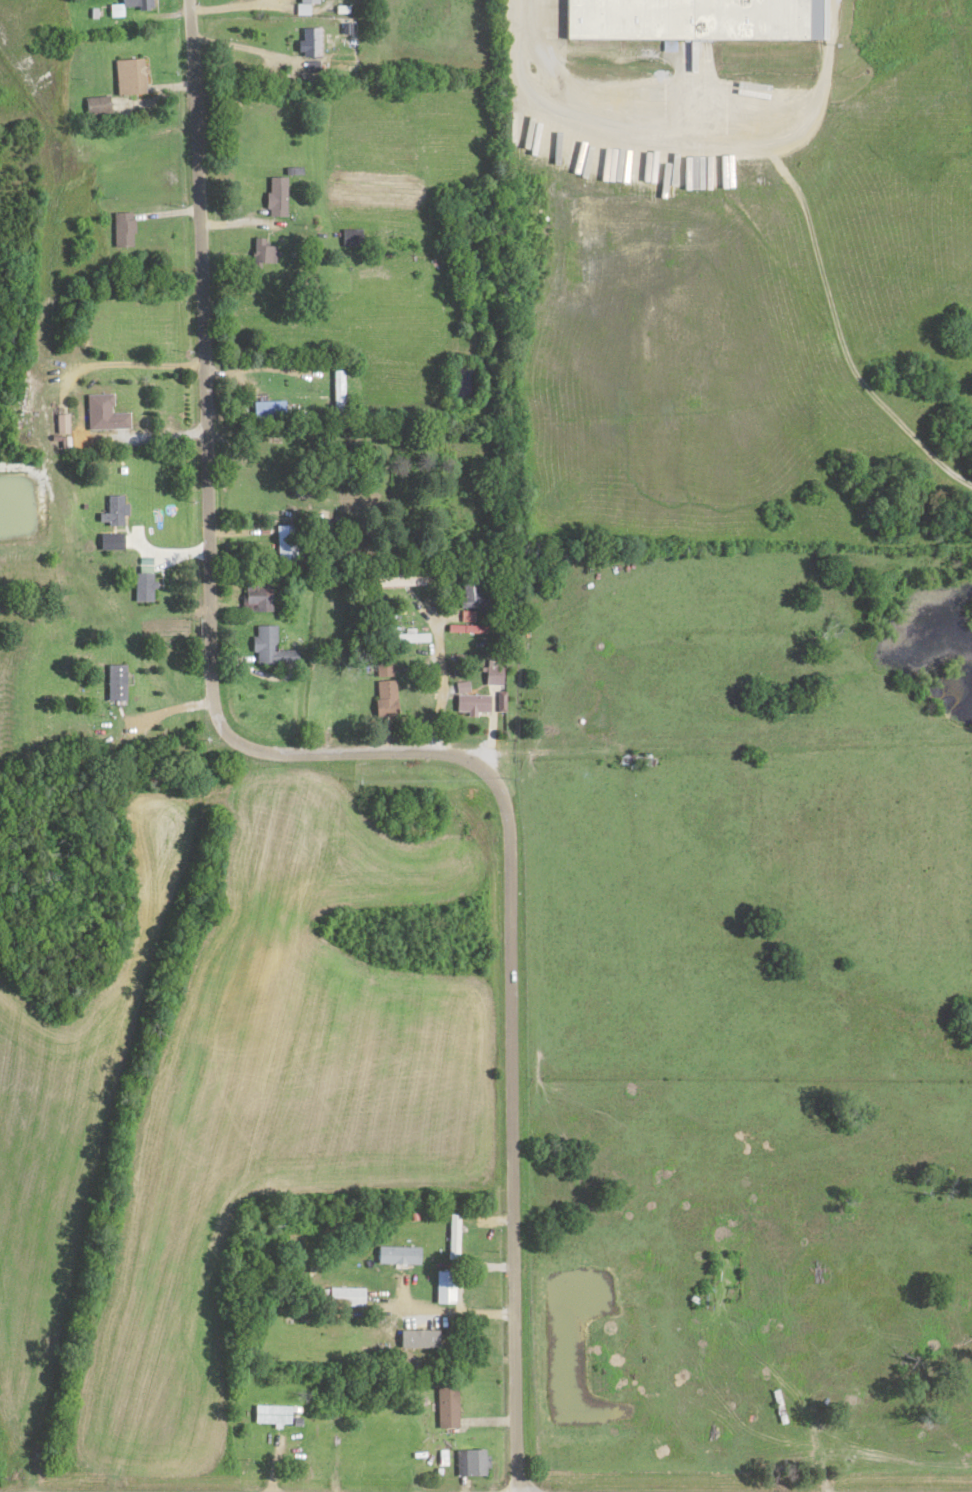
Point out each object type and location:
building: (307, 0)
building: (126, 5)
building: (690, 16)
building: (308, 40)
building: (128, 75)
building: (769, 89)
building: (95, 103)
building: (274, 194)
building: (123, 228)
building: (348, 235)
building: (262, 250)
building: (265, 407)
building: (102, 411)
road: (209, 505)
building: (113, 507)
building: (284, 539)
building: (86, 563)
building: (397, 579)
building: (142, 581)
building: (467, 591)
building: (255, 594)
building: (409, 634)
building: (270, 644)
building: (381, 663)
building: (115, 680)
building: (343, 689)
building: (383, 695)
building: (420, 695)
building: (467, 698)
building: (636, 759)
road: (520, 1137)
building: (452, 1234)
road: (447, 1249)
building: (397, 1252)
building: (345, 1294)
building: (445, 1404)
building: (301, 1406)
building: (269, 1412)
building: (343, 1433)
building: (468, 1460)

